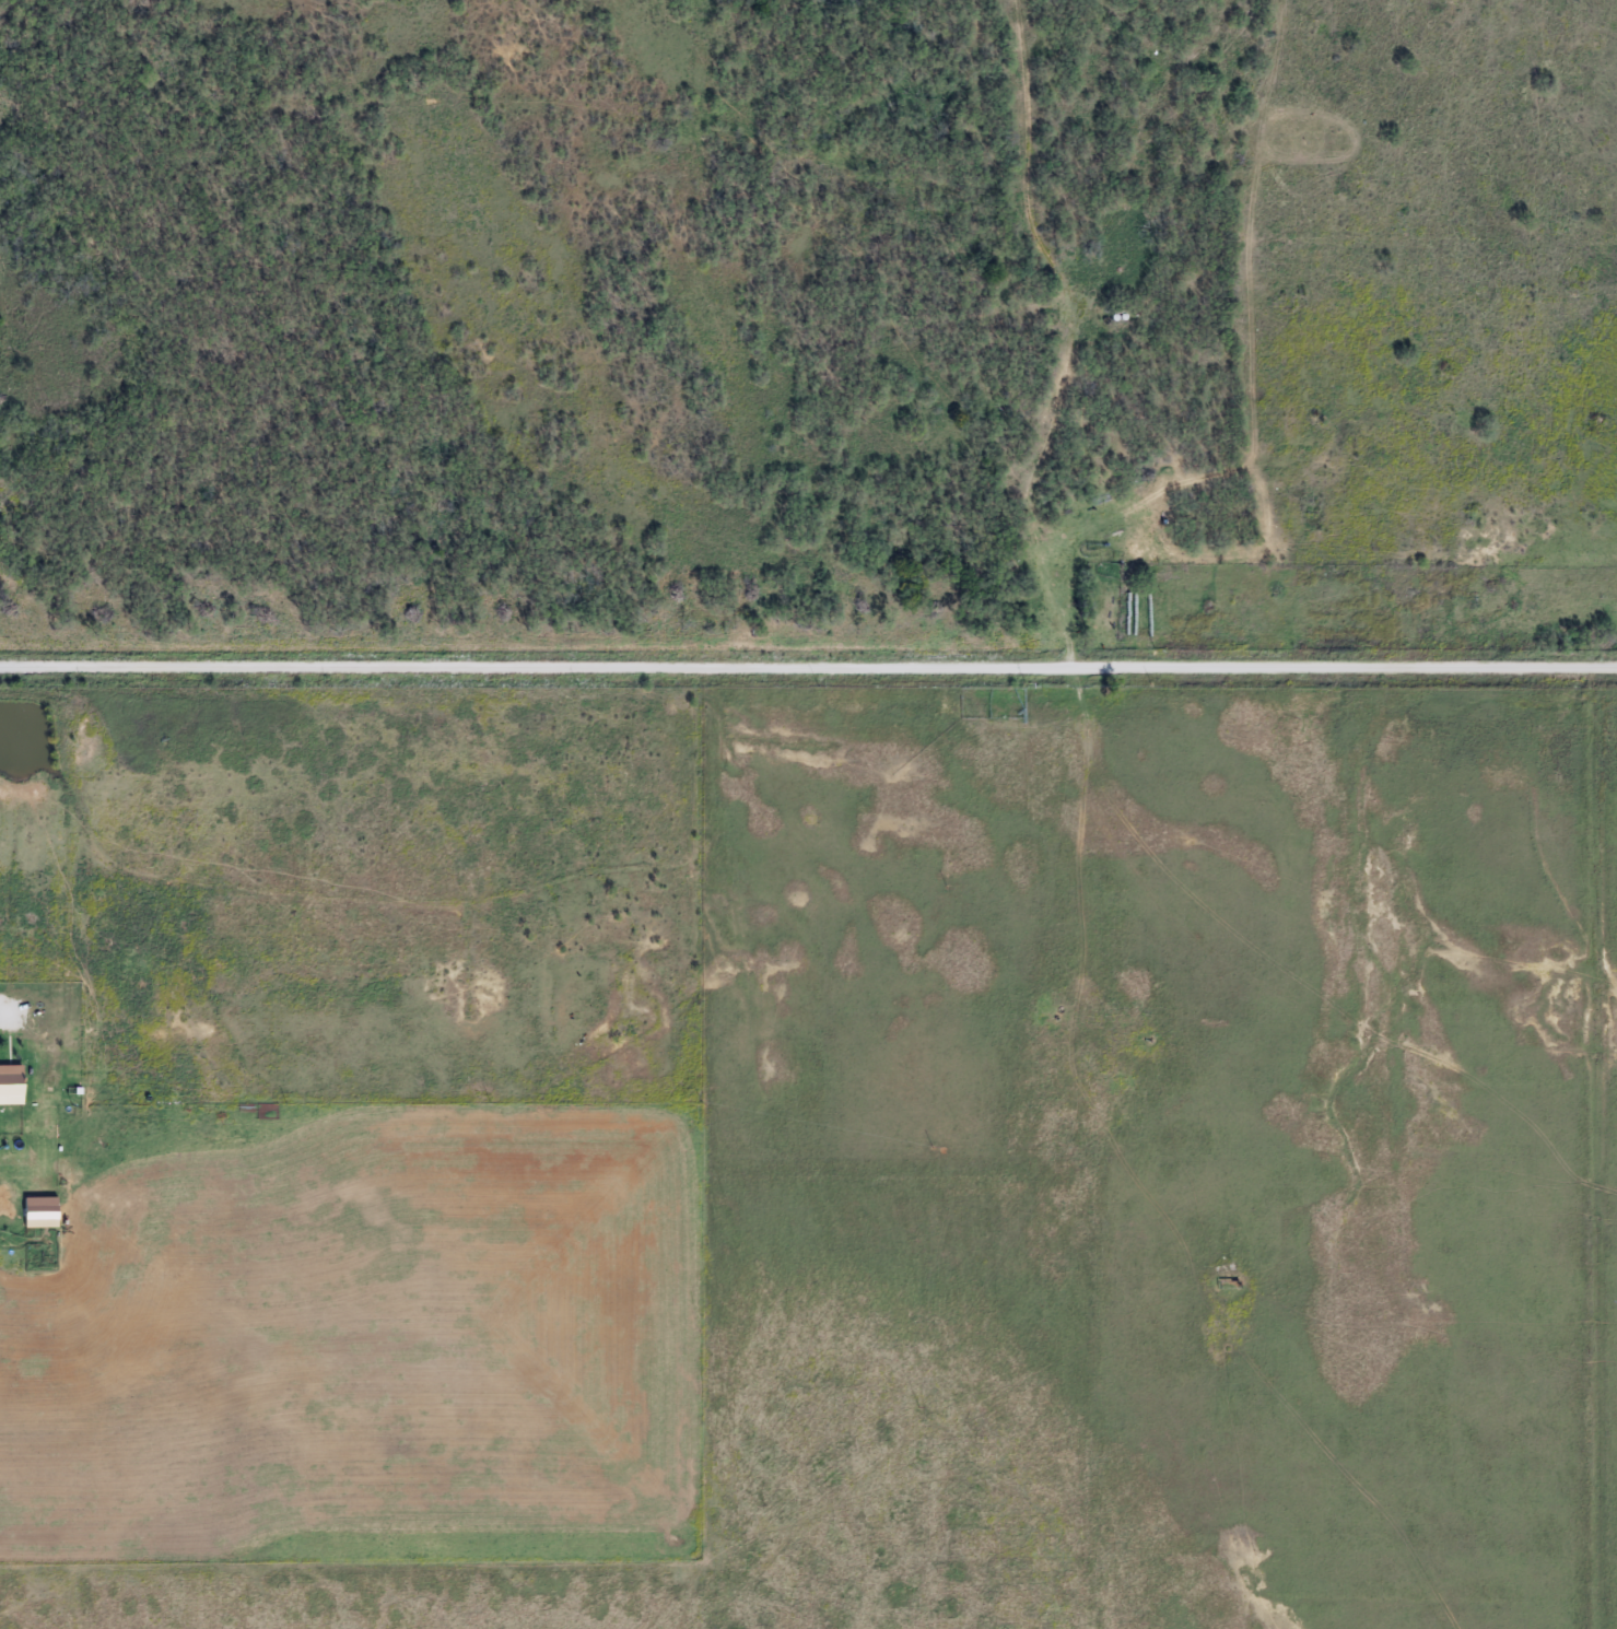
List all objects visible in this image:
road: (808, 663)
building: (10, 1086)
building: (39, 1212)

